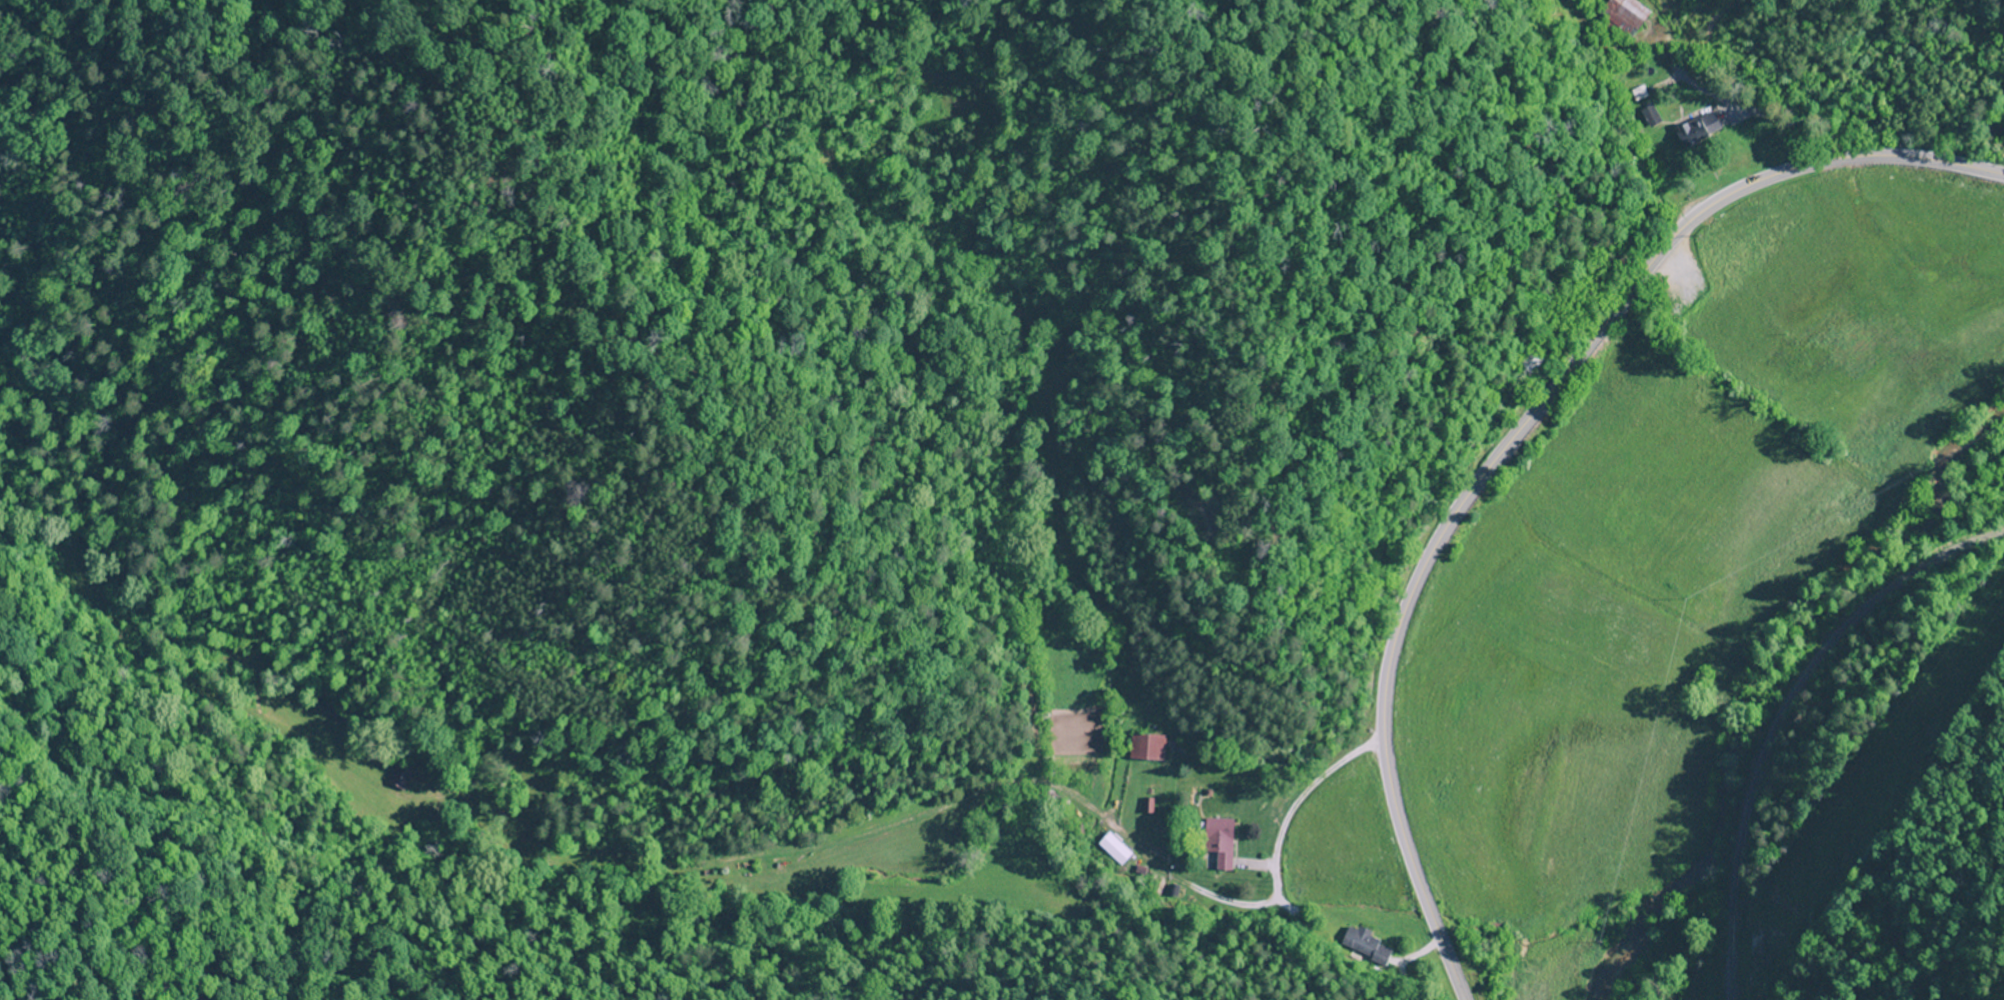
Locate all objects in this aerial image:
building: (1637, 14)
building: (1696, 130)
road: (1513, 438)
road: (1781, 713)
railway: (1798, 724)
building: (1146, 748)
road: (1243, 786)
building: (1217, 841)
building: (1113, 849)

